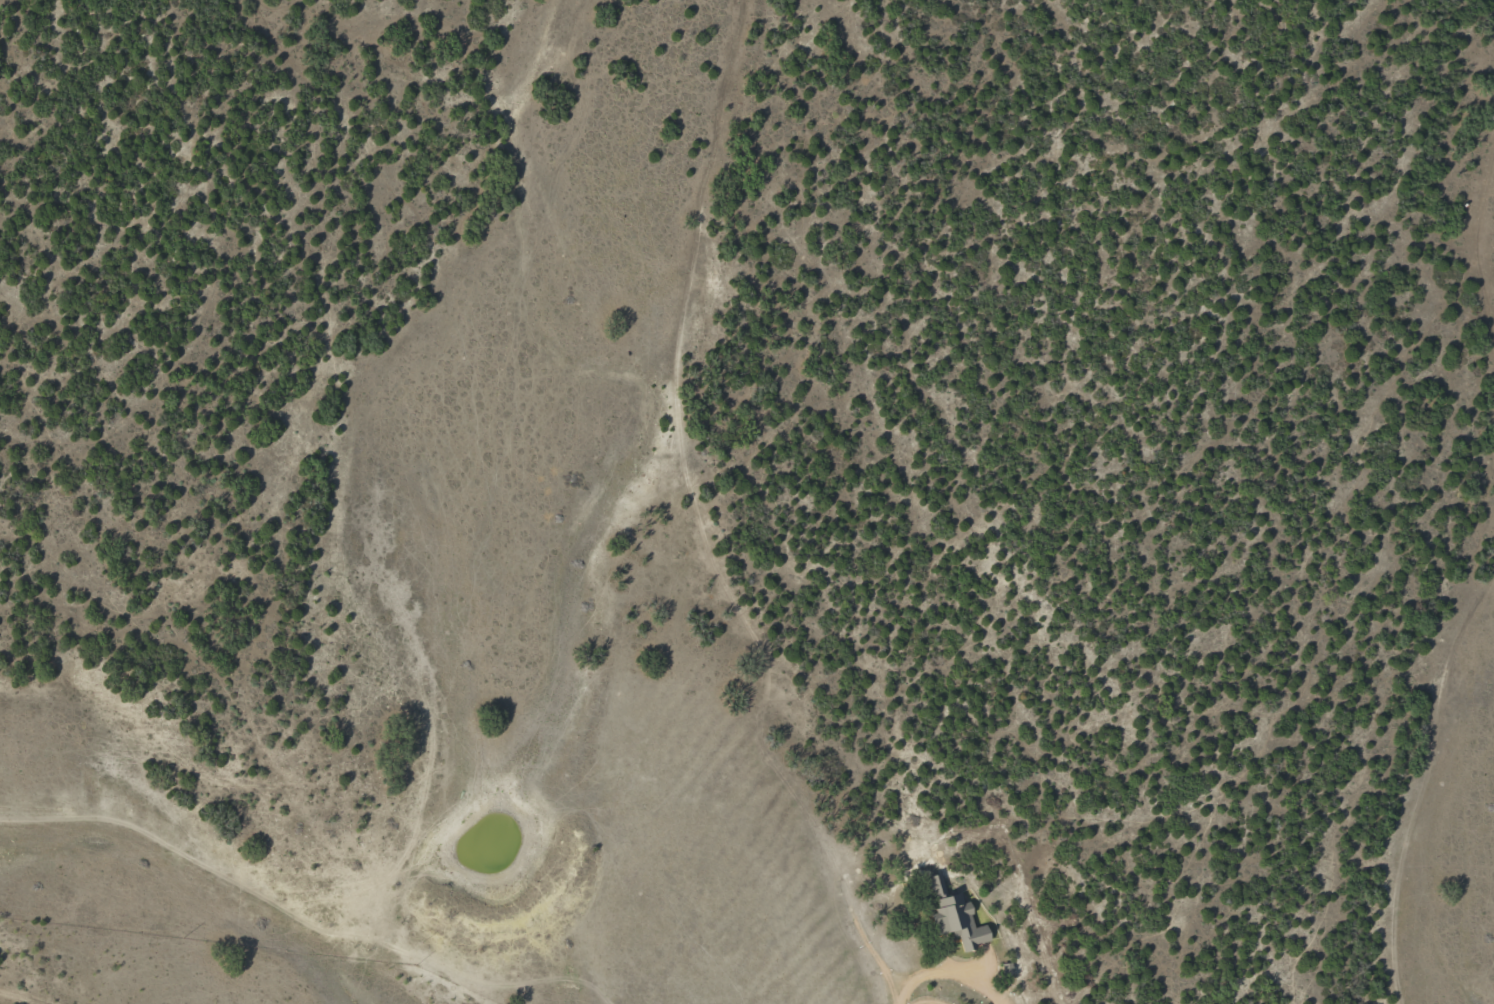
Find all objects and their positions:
road: (213, 887)

